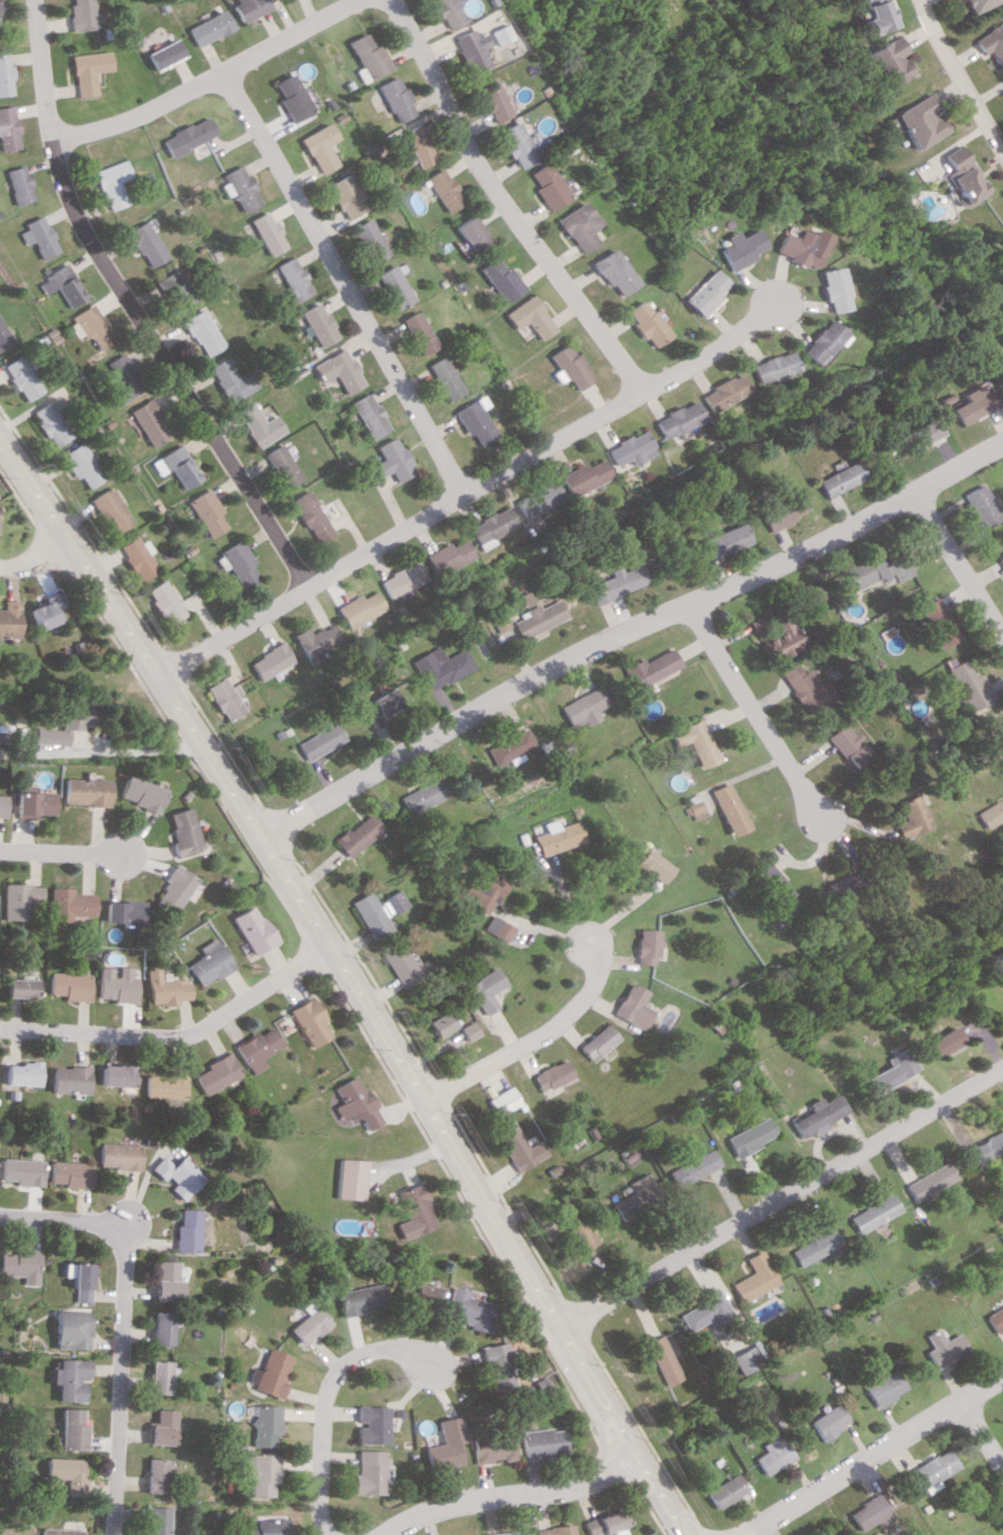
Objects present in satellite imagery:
building: (969, 4)
building: (250, 8)
building: (441, 13)
building: (83, 14)
building: (863, 15)
building: (210, 27)
building: (493, 34)
building: (988, 44)
building: (465, 50)
building: (163, 54)
building: (365, 57)
building: (879, 61)
building: (88, 71)
building: (4, 75)
road: (206, 81)
road: (951, 82)
building: (288, 98)
building: (392, 99)
building: (489, 100)
building: (914, 121)
building: (8, 129)
building: (187, 136)
building: (521, 144)
building: (416, 145)
building: (315, 148)
building: (949, 153)
building: (962, 179)
building: (112, 183)
building: (19, 184)
building: (551, 186)
building: (237, 188)
building: (447, 189)
building: (343, 196)
road: (505, 200)
building: (580, 226)
building: (475, 233)
building: (266, 234)
building: (38, 236)
building: (368, 240)
building: (145, 244)
building: (798, 247)
building: (739, 248)
building: (613, 272)
building: (292, 278)
building: (505, 280)
building: (61, 285)
road: (342, 285)
building: (394, 286)
building: (173, 288)
building: (828, 289)
building: (704, 293)
road: (129, 309)
building: (532, 317)
building: (644, 323)
building: (317, 324)
building: (88, 326)
building: (201, 332)
building: (419, 332)
building: (2, 338)
building: (816, 341)
road: (706, 349)
building: (570, 367)
building: (768, 367)
building: (339, 370)
building: (21, 377)
building: (444, 377)
building: (121, 380)
building: (230, 380)
building: (718, 391)
building: (966, 403)
building: (370, 415)
building: (675, 418)
building: (476, 420)
building: (148, 423)
building: (49, 424)
building: (258, 424)
building: (916, 435)
building: (630, 449)
building: (394, 460)
building: (80, 465)
building: (175, 466)
building: (281, 466)
building: (586, 476)
building: (839, 478)
building: (540, 498)
building: (975, 506)
building: (109, 509)
building: (782, 512)
building: (205, 513)
building: (311, 516)
building: (494, 527)
road: (398, 533)
building: (723, 541)
building: (451, 556)
building: (136, 557)
road: (34, 559)
building: (999, 561)
building: (235, 563)
road: (956, 567)
building: (875, 569)
building: (405, 579)
road: (9, 582)
building: (617, 583)
building: (524, 599)
building: (162, 602)
building: (361, 608)
building: (42, 610)
building: (7, 618)
building: (538, 618)
building: (935, 621)
building: (499, 622)
road: (629, 631)
building: (784, 639)
building: (316, 640)
building: (271, 660)
building: (439, 666)
building: (652, 667)
building: (964, 685)
building: (806, 688)
building: (224, 698)
building: (377, 704)
building: (583, 707)
road: (751, 712)
building: (67, 724)
building: (320, 740)
building: (996, 741)
building: (696, 742)
building: (845, 746)
building: (510, 747)
road: (101, 750)
building: (85, 791)
building: (140, 793)
building: (421, 796)
building: (2, 804)
building: (33, 804)
building: (729, 809)
building: (985, 814)
building: (907, 817)
building: (181, 831)
building: (355, 835)
building: (558, 838)
road: (64, 853)
building: (652, 865)
building: (769, 882)
building: (836, 886)
building: (175, 888)
building: (485, 888)
building: (19, 899)
building: (395, 901)
road: (569, 903)
building: (72, 904)
building: (124, 911)
building: (369, 915)
road: (544, 927)
building: (500, 928)
building: (251, 929)
building: (1001, 931)
building: (645, 946)
building: (401, 962)
building: (209, 963)
road: (351, 983)
building: (116, 984)
building: (69, 985)
building: (19, 987)
building: (166, 988)
building: (485, 990)
building: (633, 1006)
building: (308, 1021)
building: (467, 1030)
road: (177, 1036)
road: (535, 1040)
building: (943, 1041)
building: (600, 1042)
building: (257, 1049)
building: (890, 1071)
building: (18, 1073)
building: (216, 1073)
building: (114, 1075)
building: (554, 1077)
building: (66, 1079)
building: (163, 1084)
building: (504, 1100)
building: (355, 1103)
building: (817, 1116)
building: (750, 1136)
building: (983, 1146)
building: (520, 1147)
building: (117, 1156)
building: (695, 1168)
building: (20, 1171)
building: (67, 1173)
building: (177, 1175)
building: (352, 1179)
building: (926, 1180)
building: (639, 1195)
road: (782, 1201)
building: (416, 1208)
building: (872, 1213)
road: (120, 1225)
building: (188, 1230)
building: (816, 1243)
building: (20, 1265)
building: (755, 1277)
building: (167, 1280)
building: (80, 1282)
building: (423, 1295)
building: (361, 1298)
building: (466, 1310)
building: (706, 1310)
building: (994, 1319)
building: (311, 1323)
road: (121, 1325)
building: (162, 1327)
building: (70, 1329)
building: (943, 1347)
building: (661, 1360)
building: (743, 1360)
building: (495, 1366)
building: (273, 1373)
building: (160, 1377)
building: (68, 1378)
building: (886, 1388)
road: (328, 1401)
building: (829, 1421)
building: (371, 1424)
building: (266, 1425)
building: (163, 1427)
building: (70, 1429)
road: (982, 1437)
building: (542, 1442)
building: (444, 1443)
building: (493, 1447)
building: (771, 1454)
road: (873, 1455)
building: (928, 1471)
building: (263, 1472)
building: (369, 1472)
building: (65, 1473)
building: (157, 1475)
building: (723, 1490)
road: (512, 1497)
building: (868, 1513)
building: (159, 1520)
building: (605, 1524)
building: (271, 1527)
building: (14, 1530)
building: (554, 1530)
building: (59, 1531)
building: (515, 1533)
building: (490, 1534)

